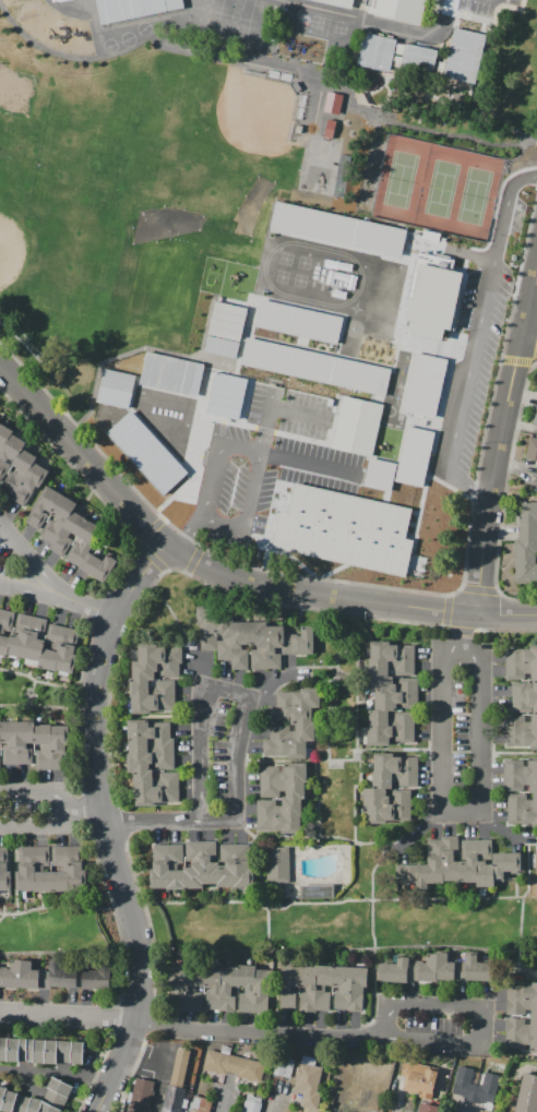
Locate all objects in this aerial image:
building: (341, 2)
parking lot: (477, 5)
building: (133, 9)
building: (397, 9)
park: (205, 16)
park: (235, 20)
road: (419, 34)
road: (39, 47)
building: (377, 52)
building: (464, 56)
building: (418, 60)
building: (296, 86)
building: (332, 103)
road: (511, 128)
building: (298, 129)
building: (330, 129)
road: (469, 140)
park: (321, 166)
park: (401, 180)
park: (439, 188)
park: (130, 196)
park: (477, 196)
building: (337, 230)
road: (475, 255)
park: (273, 258)
building: (433, 296)
building: (227, 321)
building: (298, 322)
road: (453, 324)
road: (477, 332)
road: (529, 339)
building: (222, 347)
parking lot: (477, 348)
road: (516, 361)
building: (315, 367)
building: (171, 374)
building: (425, 385)
building: (116, 388)
building: (226, 396)
road: (296, 411)
building: (535, 418)
road: (266, 420)
building: (357, 426)
building: (4, 435)
road: (501, 442)
road: (242, 445)
building: (532, 449)
building: (10, 453)
building: (147, 453)
building: (415, 456)
parking lot: (251, 459)
building: (19, 471)
building: (380, 475)
building: (29, 485)
road: (88, 486)
building: (536, 487)
road: (482, 493)
road: (503, 493)
building: (44, 506)
building: (59, 518)
building: (528, 524)
building: (346, 528)
road: (148, 530)
building: (68, 534)
building: (83, 542)
flagpole: (266, 546)
road: (150, 557)
road: (193, 559)
road: (200, 563)
building: (525, 563)
building: (98, 565)
road: (346, 572)
road: (390, 587)
road: (57, 588)
road: (479, 589)
road: (291, 607)
road: (92, 608)
road: (98, 609)
building: (0, 610)
road: (446, 611)
road: (506, 611)
road: (462, 627)
road: (465, 629)
road: (509, 629)
building: (5, 631)
road: (183, 633)
building: (20, 636)
building: (36, 638)
building: (250, 639)
building: (51, 647)
building: (67, 651)
road: (334, 661)
building: (45, 673)
building: (155, 678)
road: (38, 680)
road: (289, 681)
road: (33, 684)
road: (270, 686)
road: (108, 687)
road: (31, 690)
road: (334, 692)
building: (392, 694)
building: (523, 697)
road: (27, 702)
road: (38, 705)
road: (77, 708)
road: (357, 710)
building: (293, 722)
building: (0, 739)
building: (9, 741)
building: (25, 742)
building: (44, 746)
building: (60, 746)
road: (342, 760)
building: (151, 763)
building: (391, 788)
building: (521, 790)
road: (355, 794)
road: (98, 798)
building: (282, 798)
road: (318, 799)
road: (81, 806)
road: (62, 809)
road: (84, 809)
road: (462, 814)
road: (235, 820)
road: (153, 821)
road: (120, 822)
road: (106, 824)
road: (499, 826)
road: (420, 830)
road: (106, 834)
road: (326, 837)
building: (278, 864)
building: (201, 865)
building: (457, 865)
building: (26, 869)
building: (41, 869)
building: (60, 869)
building: (4, 870)
road: (16, 870)
building: (75, 871)
road: (132, 873)
building: (534, 880)
building: (232, 888)
building: (317, 892)
road: (343, 900)
road: (200, 901)
road: (55, 907)
road: (112, 914)
road: (2, 917)
road: (371, 925)
road: (520, 926)
road: (150, 928)
road: (267, 929)
road: (336, 949)
road: (61, 952)
building: (423, 969)
building: (451, 969)
building: (477, 969)
building: (395, 970)
building: (12, 975)
building: (63, 976)
building: (34, 977)
building: (97, 977)
road: (153, 980)
building: (288, 985)
building: (212, 987)
building: (308, 987)
building: (341, 987)
building: (194, 988)
building: (228, 988)
building: (247, 988)
building: (323, 988)
building: (357, 988)
building: (178, 989)
building: (262, 991)
road: (276, 991)
building: (522, 991)
road: (138, 1006)
building: (521, 1006)
road: (117, 1019)
road: (150, 1021)
building: (521, 1025)
road: (190, 1027)
road: (129, 1037)
building: (521, 1041)
road: (477, 1044)
building: (165, 1048)
building: (3, 1049)
building: (13, 1049)
building: (27, 1049)
building: (226, 1050)
building: (46, 1051)
building: (64, 1051)
building: (294, 1051)
building: (77, 1052)
building: (248, 1055)
building: (476, 1063)
building: (234, 1065)
building: (284, 1067)
road: (53, 1072)
road: (96, 1073)
road: (128, 1076)
building: (420, 1078)
building: (308, 1083)
building: (279, 1086)
building: (475, 1086)
building: (527, 1095)
building: (141, 1096)
building: (51, 1097)
road: (224, 1098)
building: (7, 1099)
building: (175, 1099)
road: (398, 1102)
building: (22, 1103)
building: (201, 1103)
building: (251, 1103)
road: (279, 1103)
building: (428, 1108)
building: (470, 1108)
building: (485, 1109)

